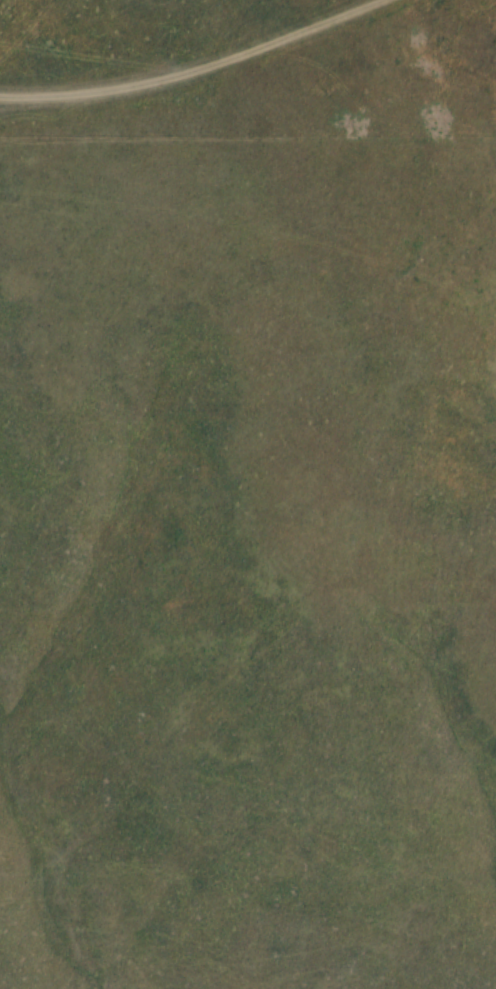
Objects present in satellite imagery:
road: (149, 29)

